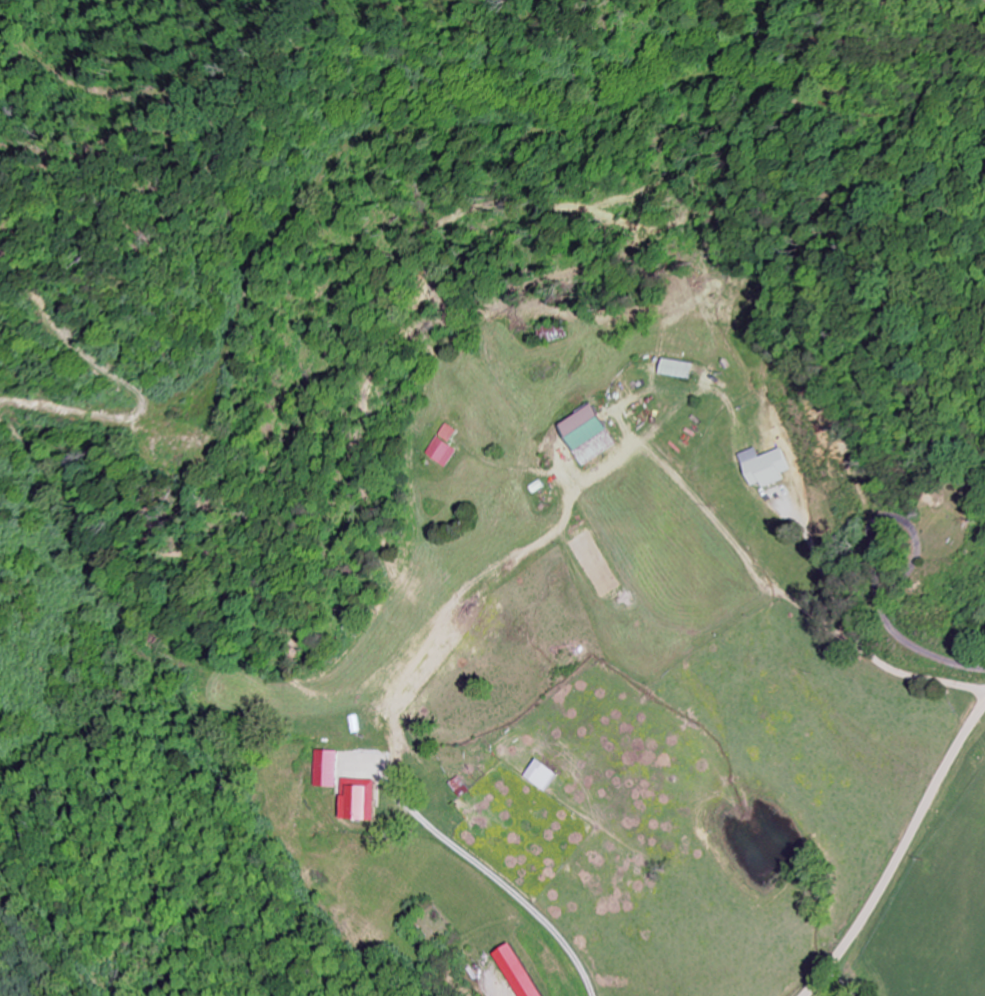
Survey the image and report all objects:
building: (553, 333)
building: (592, 436)
building: (444, 447)
building: (769, 468)
building: (327, 770)
building: (546, 776)
building: (463, 788)
building: (360, 800)
road: (900, 854)
building: (523, 972)

